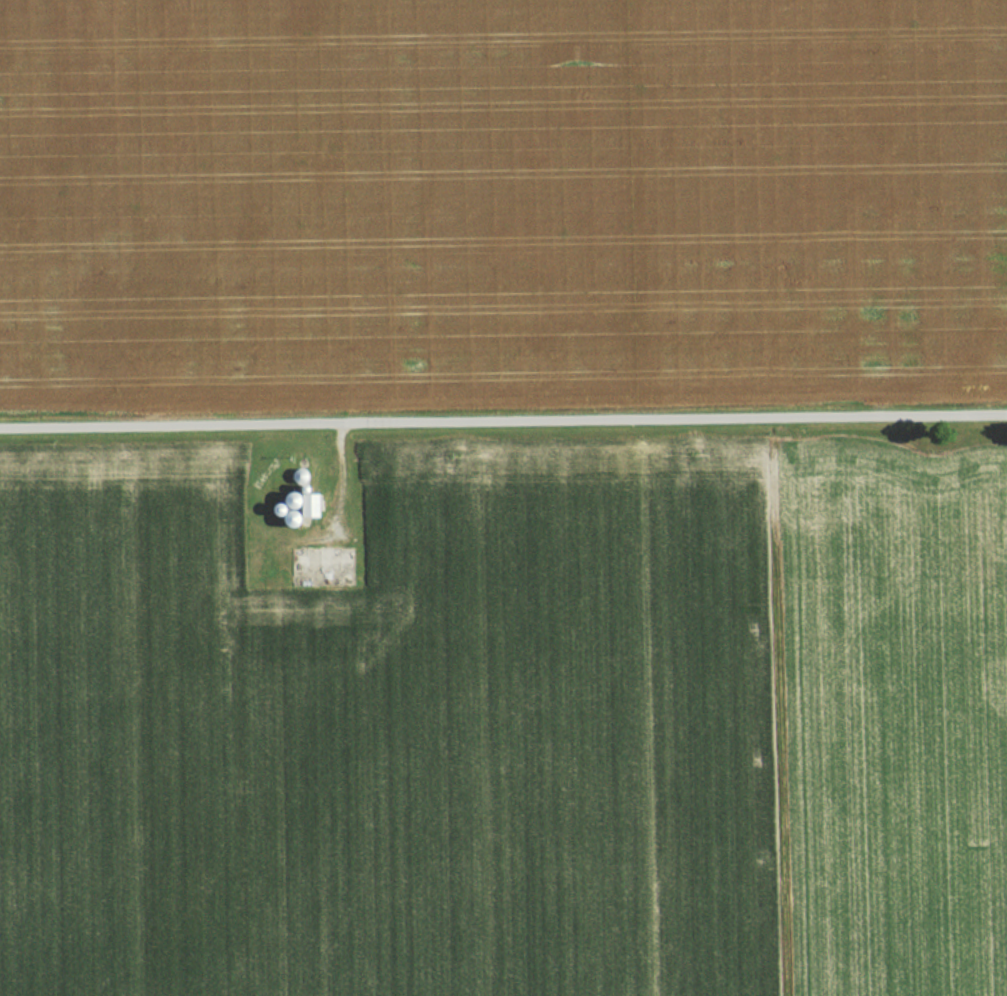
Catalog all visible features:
crop: (500, 205)
road: (503, 423)
crop: (511, 727)

